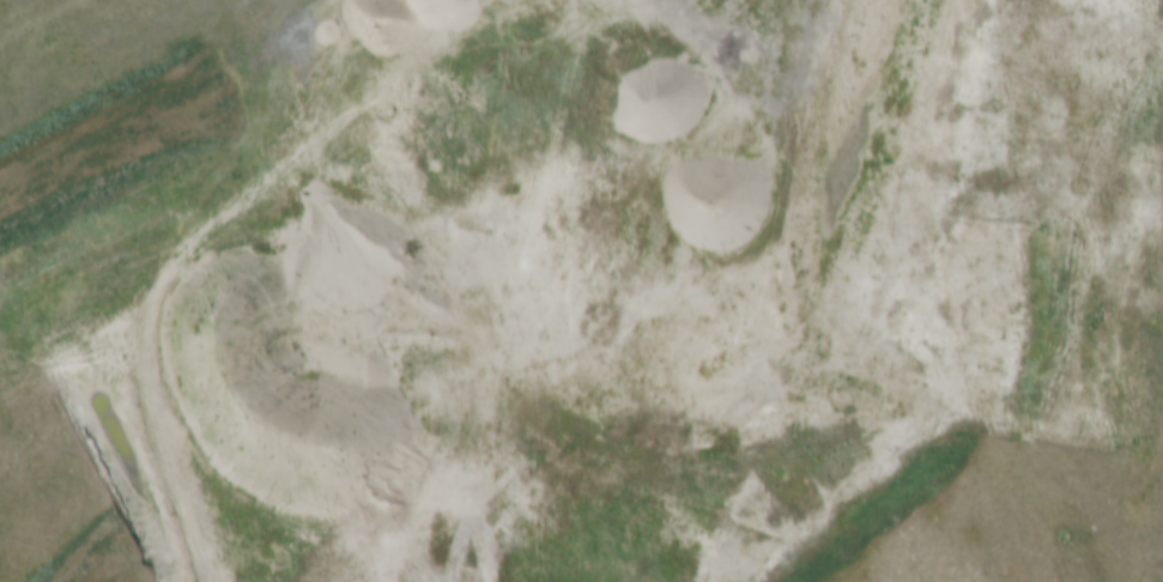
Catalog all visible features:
quarry: (238, 526)

